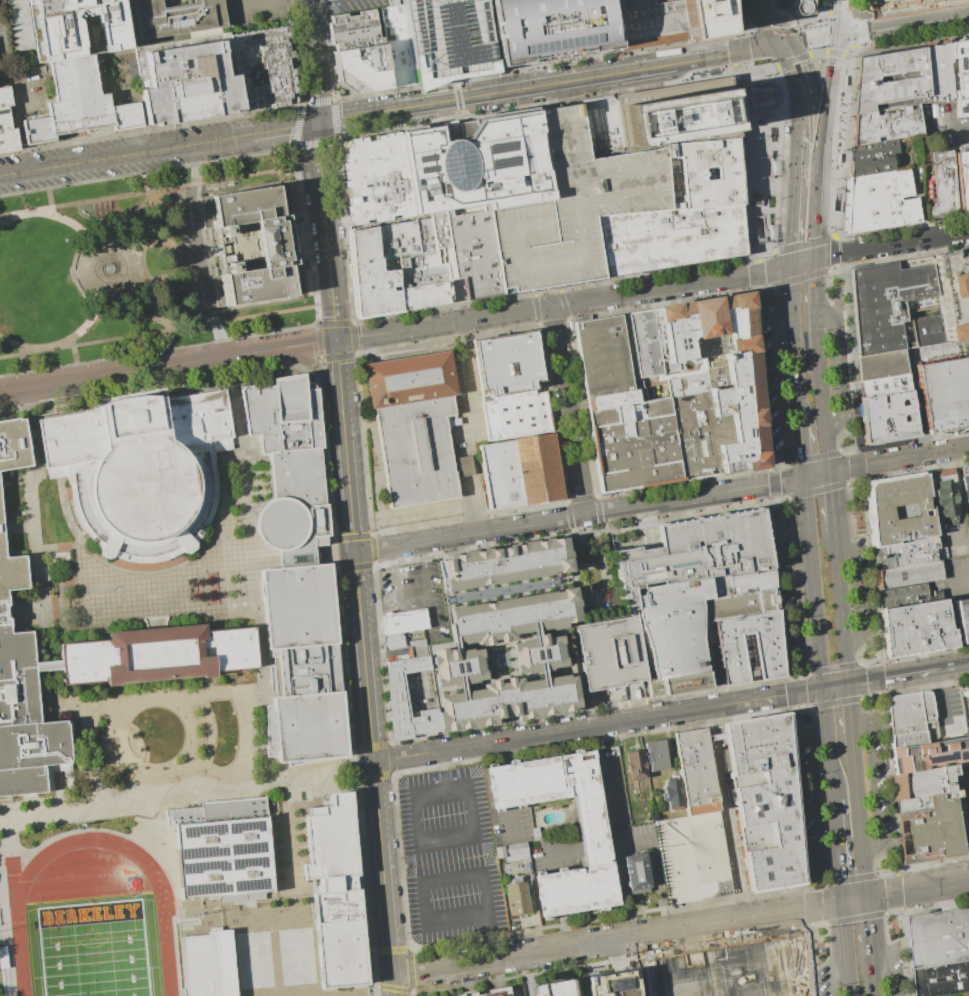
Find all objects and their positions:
building: (881, 0)
road: (317, 1)
building: (660, 1)
building: (395, 3)
road: (260, 4)
parking lot: (352, 4)
building: (801, 6)
parking lot: (255, 13)
road: (837, 17)
road: (944, 17)
building: (177, 18)
building: (666, 21)
road: (771, 22)
building: (19, 24)
road: (46, 24)
road: (742, 25)
road: (763, 25)
building: (77, 26)
road: (589, 27)
parking lot: (46, 28)
road: (878, 28)
road: (744, 29)
building: (353, 30)
building: (550, 30)
traffic signals: (836, 35)
building: (447, 38)
parking garage: (447, 38)
road: (809, 39)
road: (853, 39)
traffic signals: (783, 45)
rooftop solar panel: (957, 45)
building: (395, 46)
road: (734, 48)
road: (833, 50)
road: (734, 52)
rooftop solar panel: (960, 58)
road: (314, 61)
road: (596, 64)
building: (264, 69)
building: (361, 69)
building: (939, 73)
road: (806, 76)
road: (829, 76)
building: (961, 76)
building: (187, 79)
building: (891, 80)
road: (793, 86)
road: (781, 87)
road: (502, 91)
road: (827, 93)
road: (743, 97)
building: (78, 103)
rooftop solar panel: (962, 105)
road: (824, 107)
building: (676, 113)
building: (6, 121)
road: (20, 123)
traffic signals: (318, 123)
building: (886, 123)
building: (597, 129)
road: (954, 130)
building: (774, 138)
road: (928, 138)
road: (916, 140)
rooftop solar panel: (504, 141)
road: (847, 142)
rooftop solar panel: (493, 143)
road: (756, 147)
road: (159, 149)
road: (900, 151)
road: (794, 152)
rooftop solar panel: (421, 154)
road: (875, 155)
building: (873, 156)
rooftop solar panel: (505, 157)
rooftop solar panel: (493, 158)
road: (849, 159)
road: (742, 161)
building: (482, 164)
rooftop solar panel: (424, 166)
building: (705, 171)
road: (928, 173)
building: (962, 181)
building: (378, 182)
road: (837, 184)
road: (816, 186)
building: (944, 186)
road: (48, 187)
road: (160, 190)
building: (880, 202)
building: (8, 204)
road: (791, 206)
road: (941, 207)
building: (572, 209)
parking lot: (572, 209)
road: (127, 217)
road: (3, 218)
road: (70, 221)
road: (944, 227)
road: (326, 231)
building: (666, 237)
road: (161, 238)
road: (915, 241)
building: (256, 244)
road: (803, 244)
road: (759, 248)
road: (788, 250)
road: (834, 251)
parking lot: (194, 252)
road: (199, 252)
road: (762, 252)
road: (838, 253)
building: (239, 254)
road: (179, 257)
traffic signals: (815, 258)
road: (801, 261)
building: (426, 262)
traffic signals: (788, 264)
park: (126, 266)
fountain: (108, 268)
road: (830, 270)
road: (756, 272)
road: (799, 278)
road: (168, 280)
road: (669, 286)
road: (815, 286)
road: (765, 288)
road: (124, 290)
building: (953, 293)
building: (889, 303)
road: (146, 312)
road: (502, 314)
road: (830, 321)
road: (85, 324)
road: (166, 330)
building: (926, 330)
road: (396, 331)
building: (37, 332)
road: (817, 335)
traffic signals: (336, 340)
road: (15, 344)
road: (302, 344)
road: (792, 346)
road: (171, 348)
building: (600, 356)
road: (852, 356)
road: (75, 362)
building: (506, 362)
building: (883, 365)
road: (23, 370)
road: (134, 371)
road: (763, 377)
road: (779, 377)
road: (339, 378)
building: (886, 386)
road: (839, 387)
road: (821, 394)
building: (944, 395)
building: (681, 397)
road: (471, 410)
road: (566, 410)
building: (514, 414)
building: (890, 417)
building: (414, 427)
building: (12, 447)
road: (848, 450)
road: (802, 452)
road: (826, 452)
road: (813, 457)
road: (898, 458)
road: (857, 460)
road: (781, 466)
building: (288, 468)
building: (140, 471)
building: (519, 471)
traffic signals: (829, 471)
road: (859, 471)
road: (773, 476)
traffic signals: (804, 477)
road: (860, 478)
road: (684, 482)
road: (852, 482)
building: (965, 486)
road: (774, 489)
road: (816, 491)
road: (706, 494)
building: (944, 495)
road: (581, 498)
road: (831, 499)
road: (473, 500)
road: (781, 500)
building: (898, 508)
road: (468, 509)
road: (409, 510)
road: (598, 511)
road: (568, 516)
road: (468, 518)
road: (471, 525)
building: (968, 529)
road: (573, 531)
road: (469, 533)
road: (422, 549)
road: (372, 550)
building: (905, 553)
road: (390, 554)
rooftop solar panel: (680, 562)
building: (504, 564)
building: (11, 568)
road: (871, 572)
building: (907, 575)
building: (741, 581)
building: (553, 582)
road: (812, 582)
road: (779, 588)
road: (357, 589)
parking lot: (415, 592)
building: (909, 594)
road: (858, 595)
road: (412, 599)
building: (628, 602)
road: (799, 602)
road: (841, 606)
building: (5, 611)
road: (430, 616)
building: (512, 616)
building: (963, 617)
building: (403, 620)
building: (915, 626)
building: (687, 628)
road: (534, 635)
building: (393, 640)
building: (417, 647)
building: (748, 647)
road: (454, 648)
building: (536, 652)
road: (922, 652)
building: (157, 654)
road: (381, 654)
road: (868, 661)
building: (457, 664)
building: (47, 665)
building: (302, 665)
road: (952, 666)
road: (834, 667)
road: (541, 673)
road: (800, 673)
road: (891, 675)
road: (876, 678)
traffic signals: (848, 683)
road: (835, 685)
road: (460, 686)
road: (923, 687)
traffic signals: (822, 688)
building: (964, 691)
road: (797, 692)
road: (878, 693)
road: (868, 697)
road: (940, 699)
building: (406, 700)
building: (504, 702)
road: (834, 703)
road: (803, 706)
road: (591, 709)
road: (849, 714)
building: (912, 718)
building: (24, 721)
road: (597, 724)
road: (601, 731)
road: (594, 740)
road: (827, 743)
road: (369, 747)
road: (499, 748)
building: (931, 753)
building: (655, 755)
rooftop solar panel: (961, 755)
rooftop solar panel: (939, 757)
road: (390, 758)
road: (441, 758)
road: (501, 760)
building: (635, 770)
building: (694, 771)
road: (372, 776)
road: (443, 778)
road: (605, 780)
building: (925, 781)
road: (874, 784)
road: (505, 785)
road: (891, 785)
building: (672, 795)
road: (818, 796)
road: (801, 798)
road: (187, 800)
building: (764, 800)
building: (915, 804)
road: (726, 812)
road: (834, 818)
road: (511, 819)
road: (859, 821)
rooftop solar panel: (252, 824)
rooftop solar panel: (236, 826)
rooftop solar panel: (202, 828)
building: (934, 829)
road: (440, 838)
building: (592, 838)
rooftop solar panel: (251, 846)
building: (220, 849)
rooftop solar panel: (238, 849)
rooftop solar panel: (202, 851)
road: (549, 851)
building: (499, 852)
building: (515, 852)
building: (692, 855)
parking lot: (449, 856)
rooftop solar panel: (252, 863)
rooftop solar panel: (238, 865)
rooftop solar panel: (203, 866)
road: (656, 866)
building: (619, 869)
road: (839, 869)
building: (638, 870)
road: (885, 873)
road: (383, 878)
road: (851, 878)
road: (820, 883)
rooftop solar panel: (252, 884)
road: (423, 885)
rooftop solar panel: (240, 886)
road: (917, 889)
rooftop solar panel: (207, 890)
building: (335, 891)
road: (556, 893)
road: (896, 893)
building: (516, 898)
traffic signals: (866, 898)
road: (854, 900)
traffic signals: (842, 902)
road: (813, 907)
road: (889, 912)
track: (17, 913)
road: (854, 918)
stadium: (97, 920)
road: (820, 924)
road: (563, 930)
road: (868, 930)
road: (491, 936)
building: (938, 936)
road: (617, 938)
road: (845, 949)
park: (94, 950)
road: (906, 952)
road: (815, 958)
building: (207, 965)
road: (891, 970)
building: (731, 971)
building: (4, 972)
road: (835, 977)
building: (940, 978)
road: (873, 979)
building: (611, 984)
building: (552, 988)
building: (492, 993)

